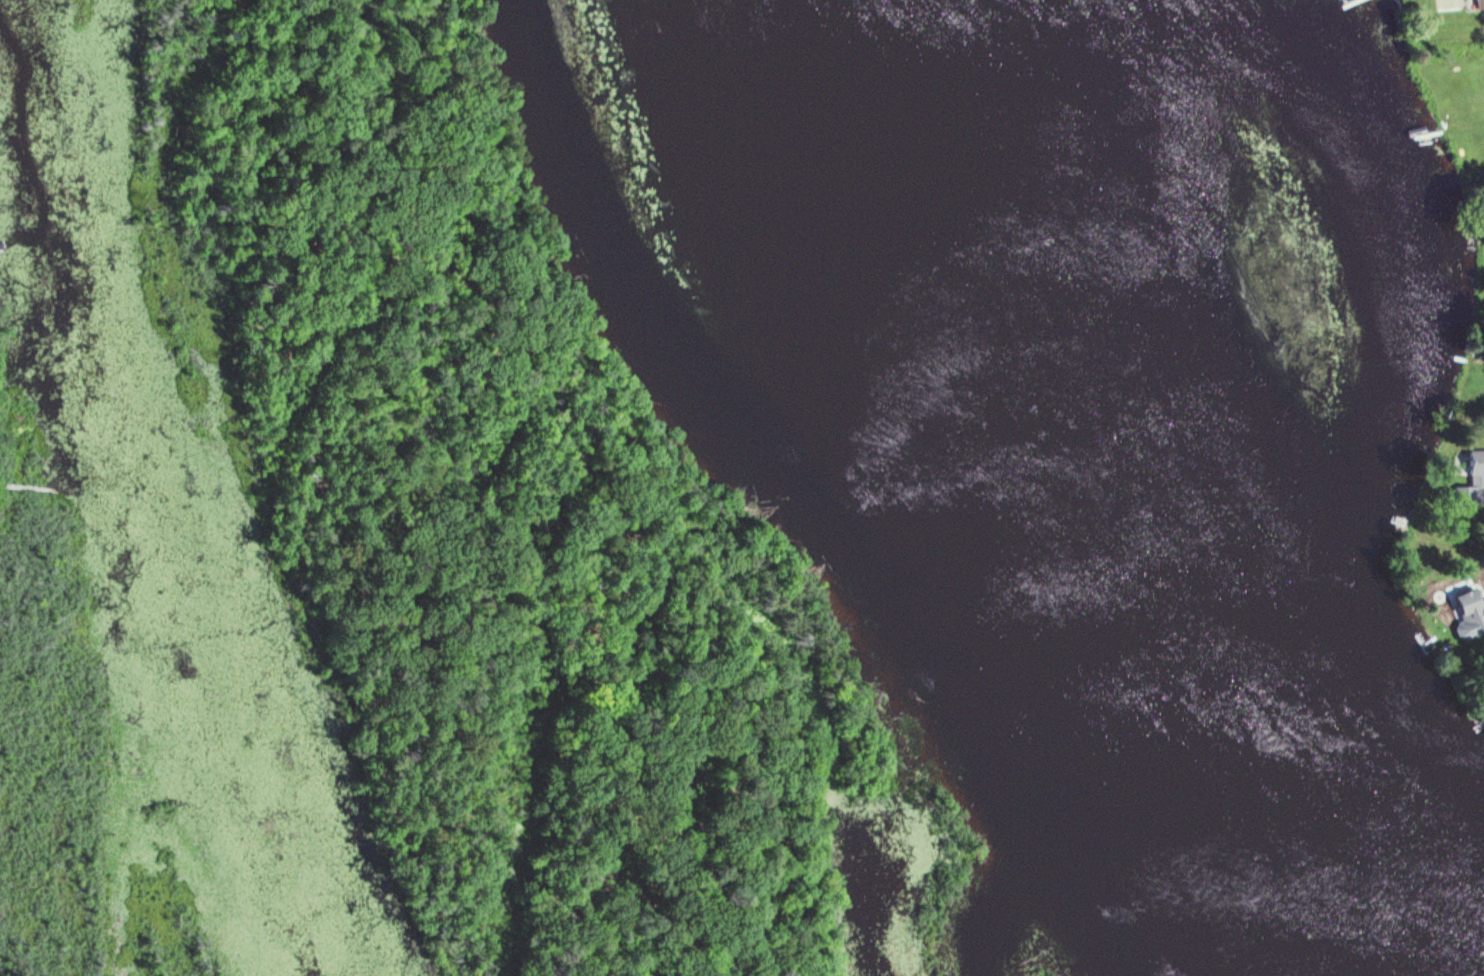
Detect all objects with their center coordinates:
building: (1472, 0)
building: (1468, 471)
river: (145, 503)
river: (1151, 506)
building: (1467, 602)

